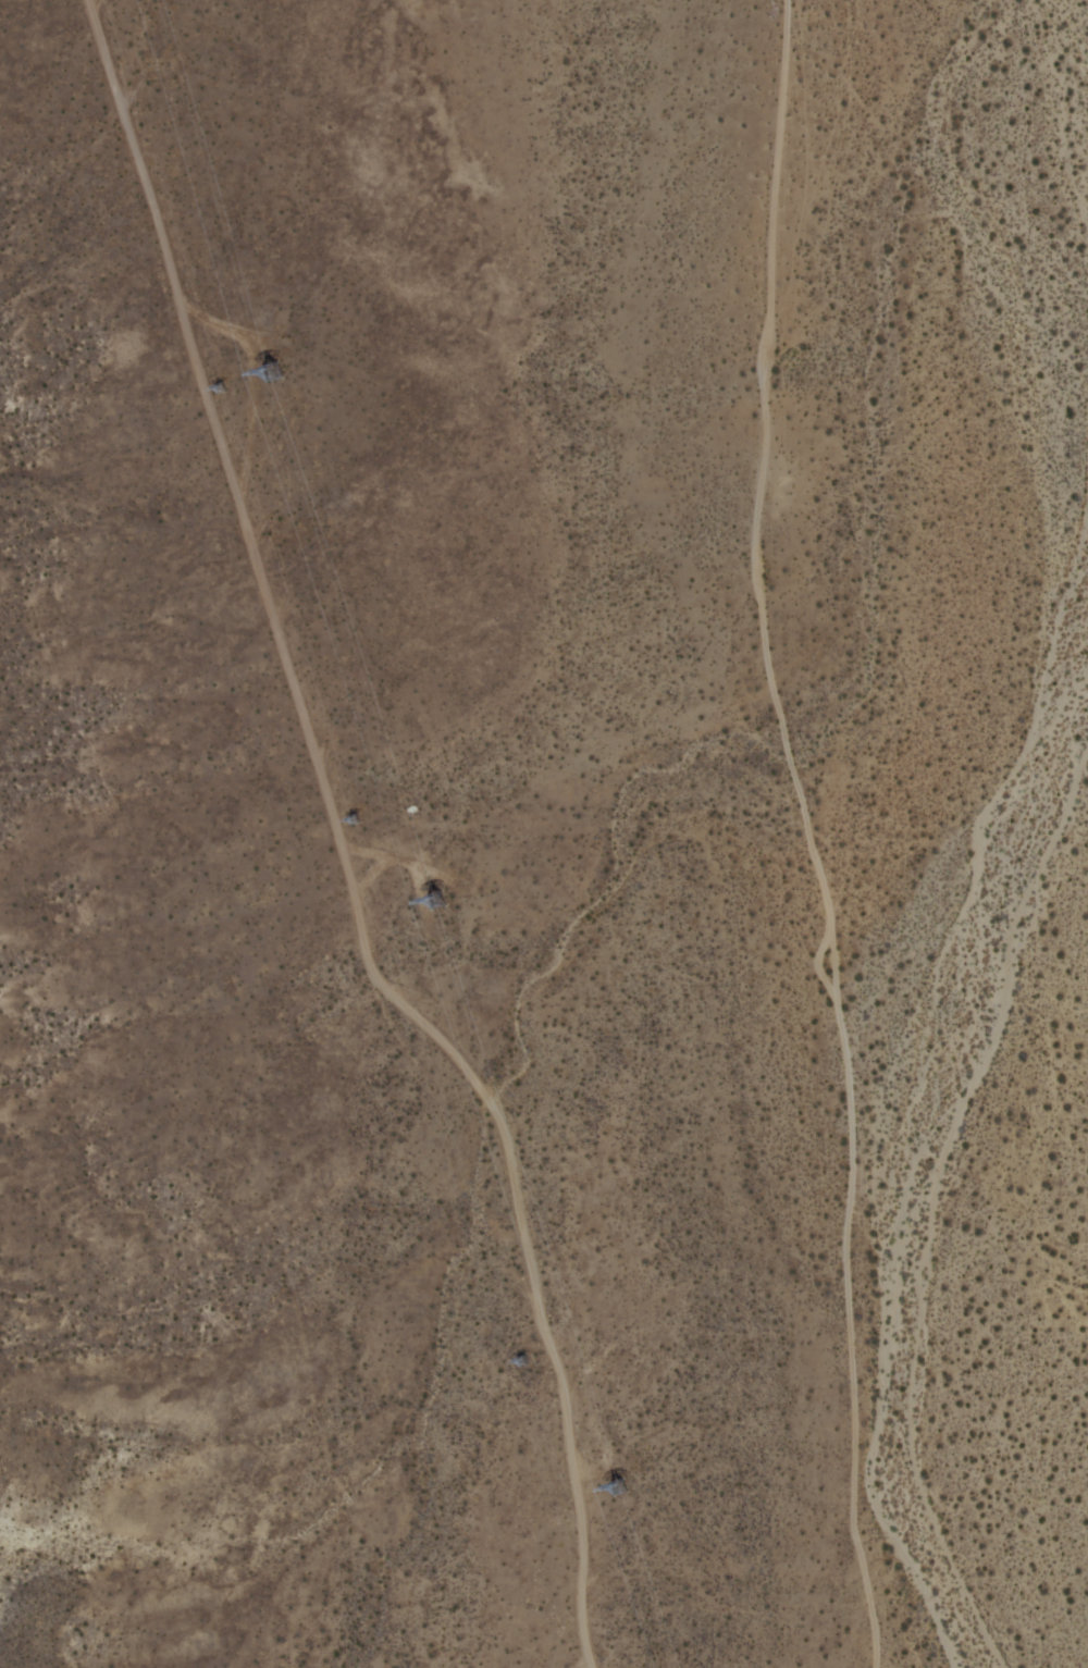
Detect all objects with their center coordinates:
power tower: (268, 375)
power tower: (224, 392)
power tower: (356, 826)
power tower: (437, 902)
power tower: (511, 1367)
power tower: (615, 1500)

